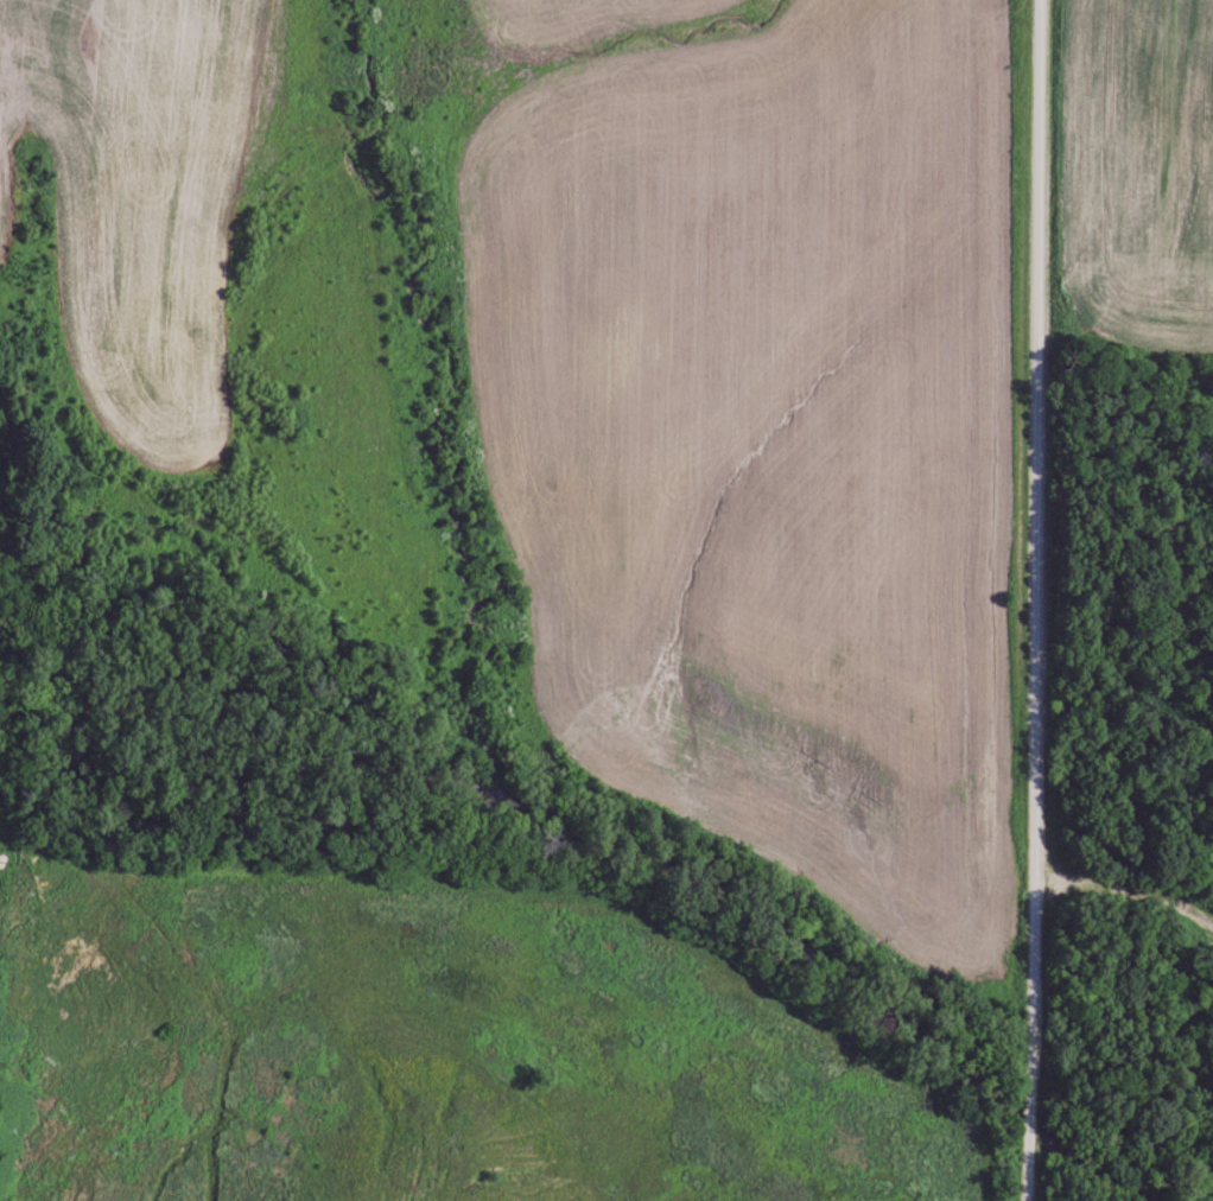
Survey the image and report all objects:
road: (1036, 600)

